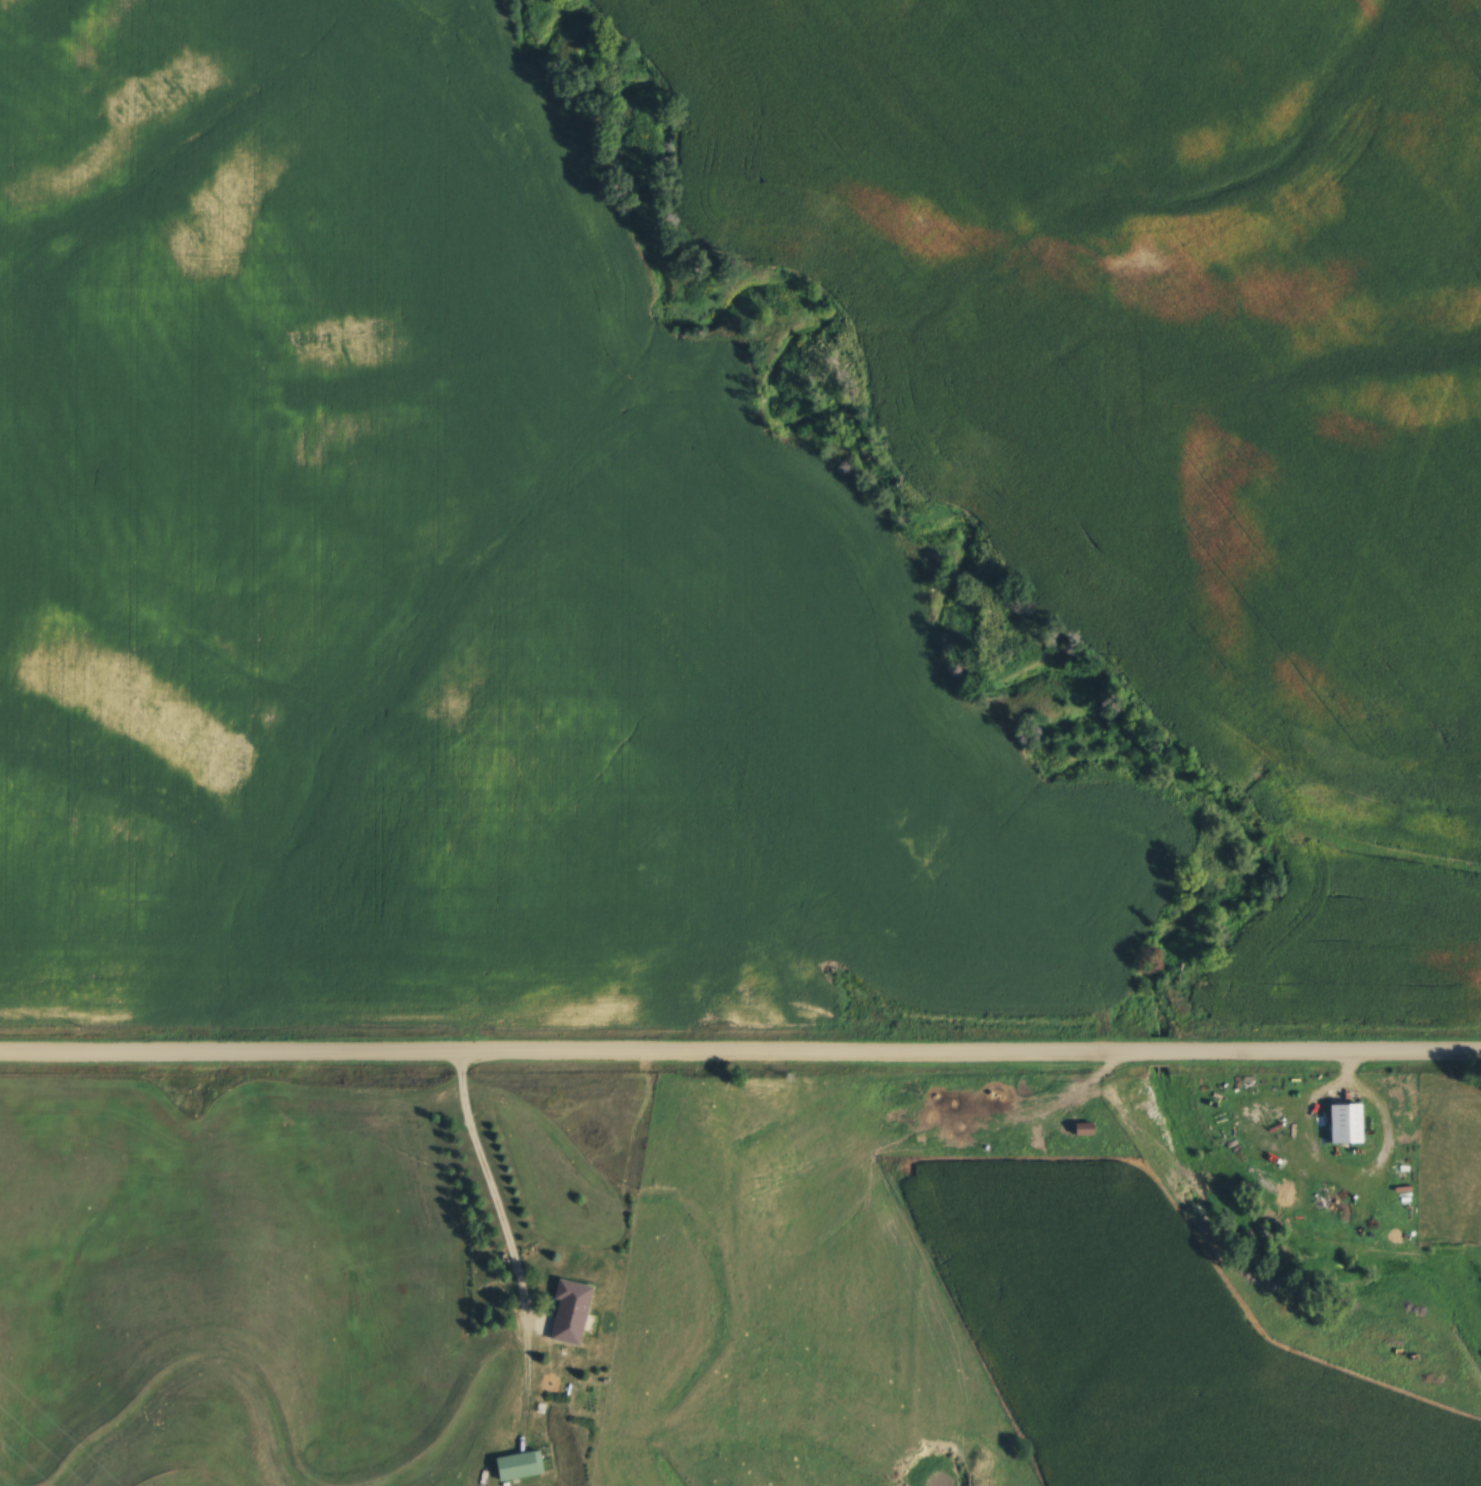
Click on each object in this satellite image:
road: (740, 1051)
building: (1346, 1121)
road: (491, 1190)
building: (570, 1308)
building: (517, 1462)

